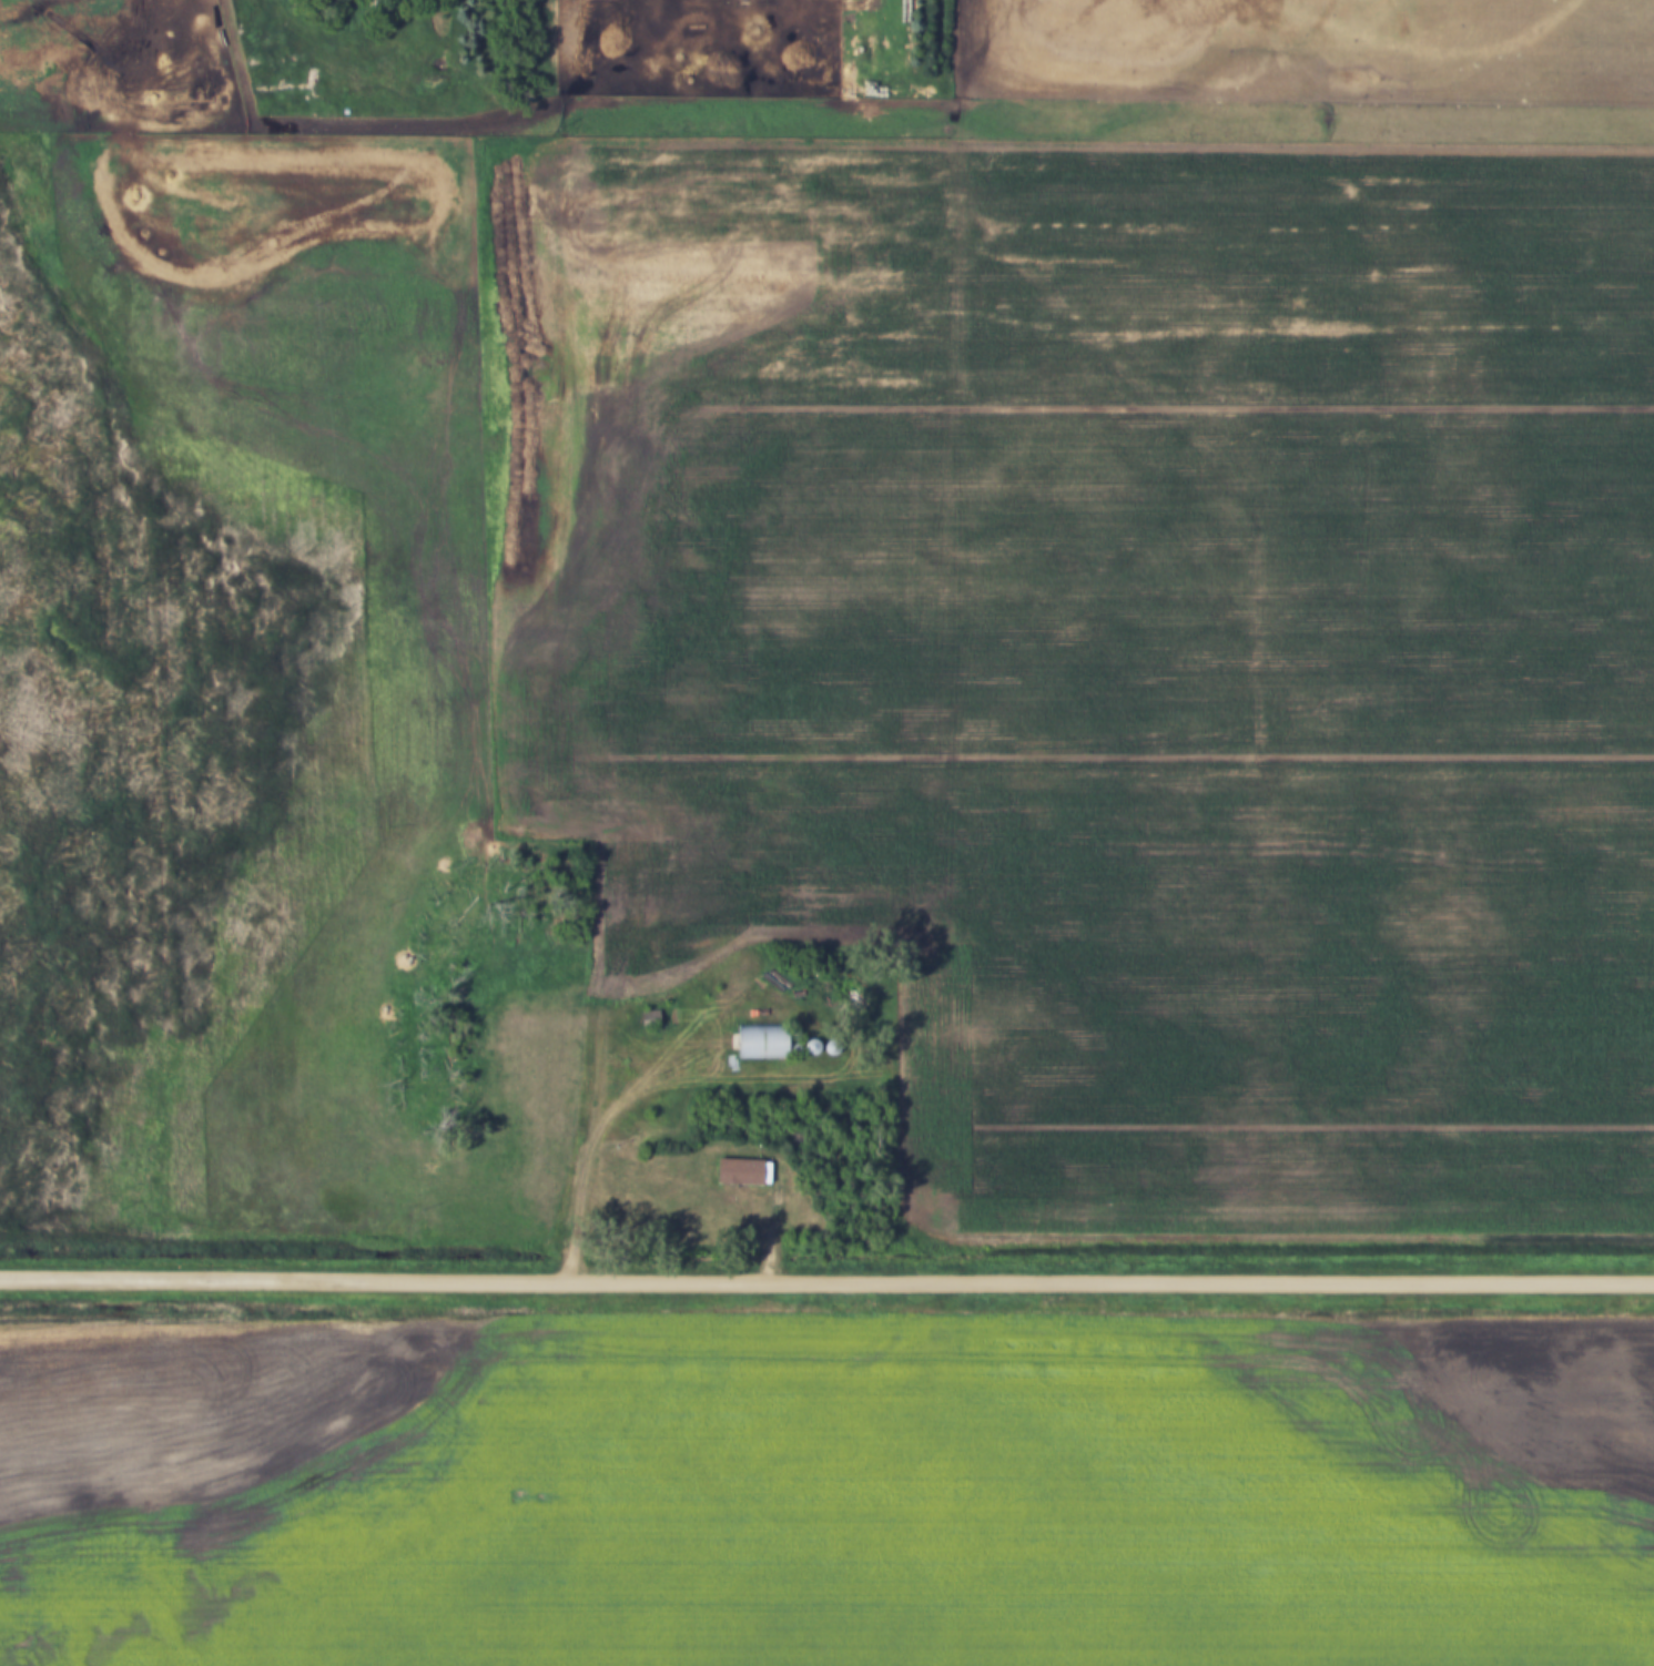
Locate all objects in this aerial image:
building: (384, 99)
building: (651, 1020)
building: (760, 1044)
building: (764, 1176)
road: (826, 1278)

